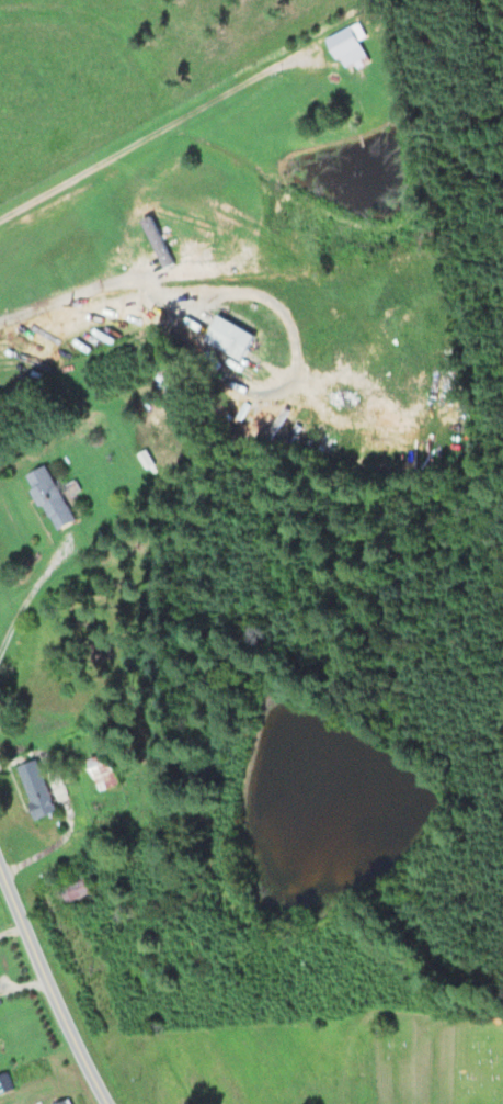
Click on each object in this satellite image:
building: (348, 47)
building: (341, 85)
road: (149, 136)
building: (196, 252)
road: (142, 262)
road: (149, 292)
road: (272, 303)
building: (233, 339)
building: (264, 426)
building: (53, 497)
road: (34, 593)
road: (27, 757)
building: (106, 774)
building: (45, 789)
road: (52, 848)
building: (82, 897)
road: (12, 930)
road: (24, 985)
road: (50, 987)
building: (7, 1083)
building: (68, 1102)

